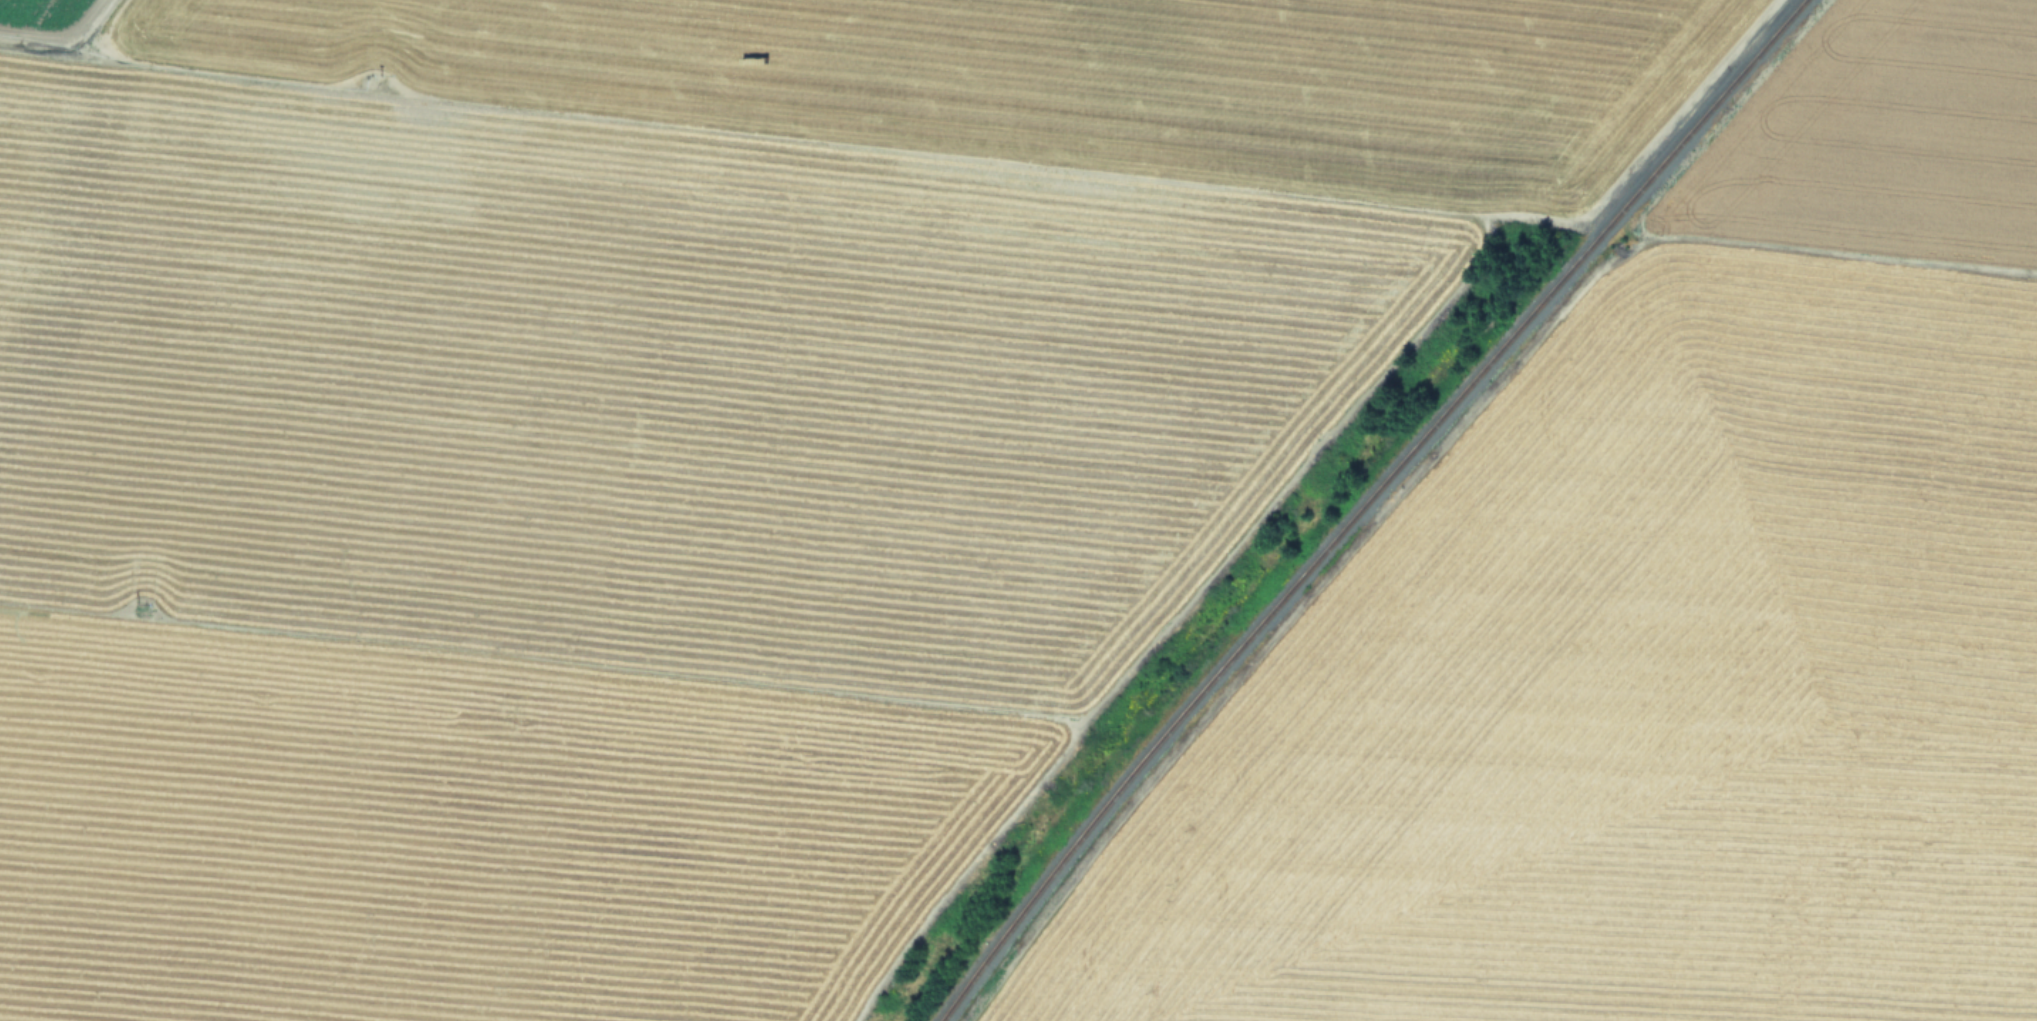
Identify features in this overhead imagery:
crop: (665, 454)
railway: (1366, 503)
crop: (1694, 632)

